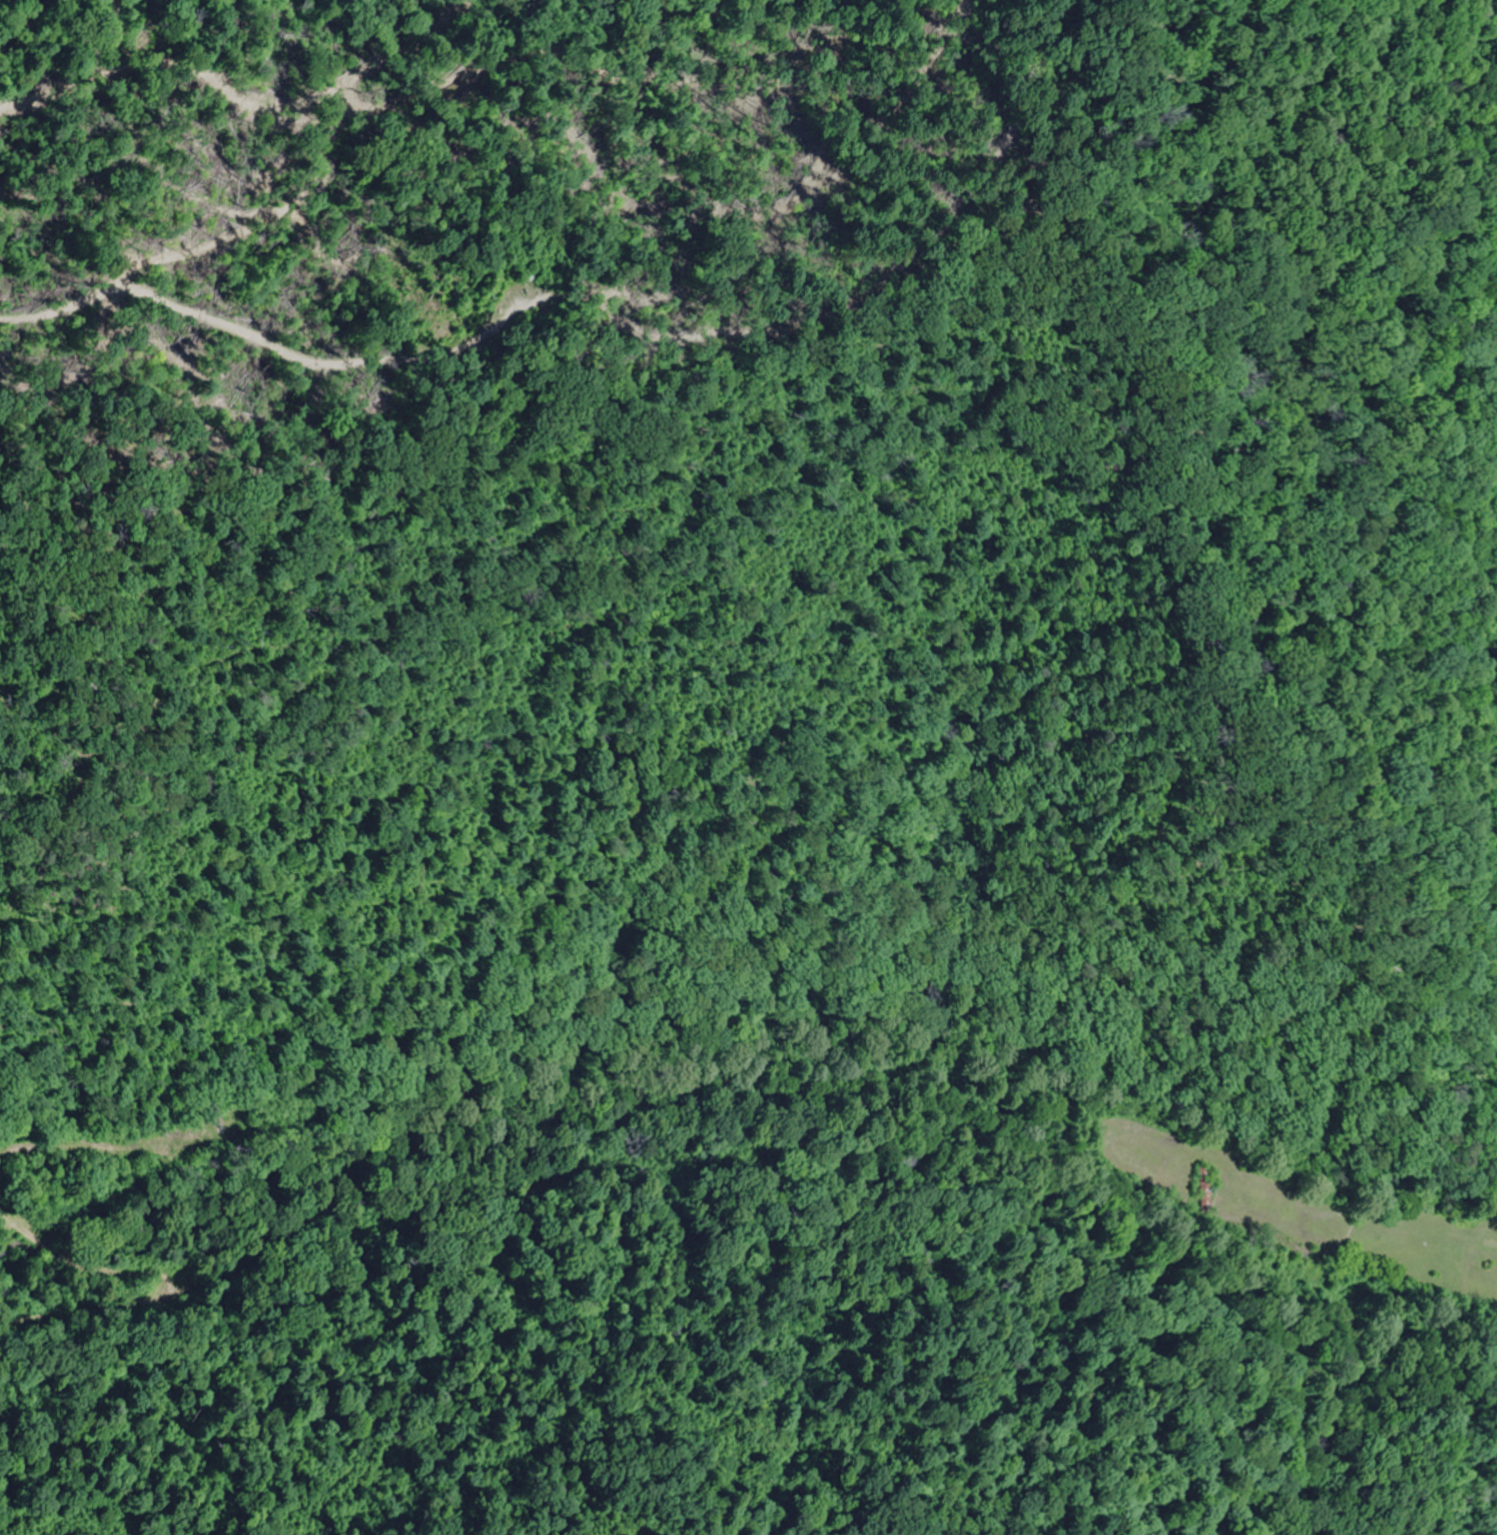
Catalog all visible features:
building: (1203, 1189)

